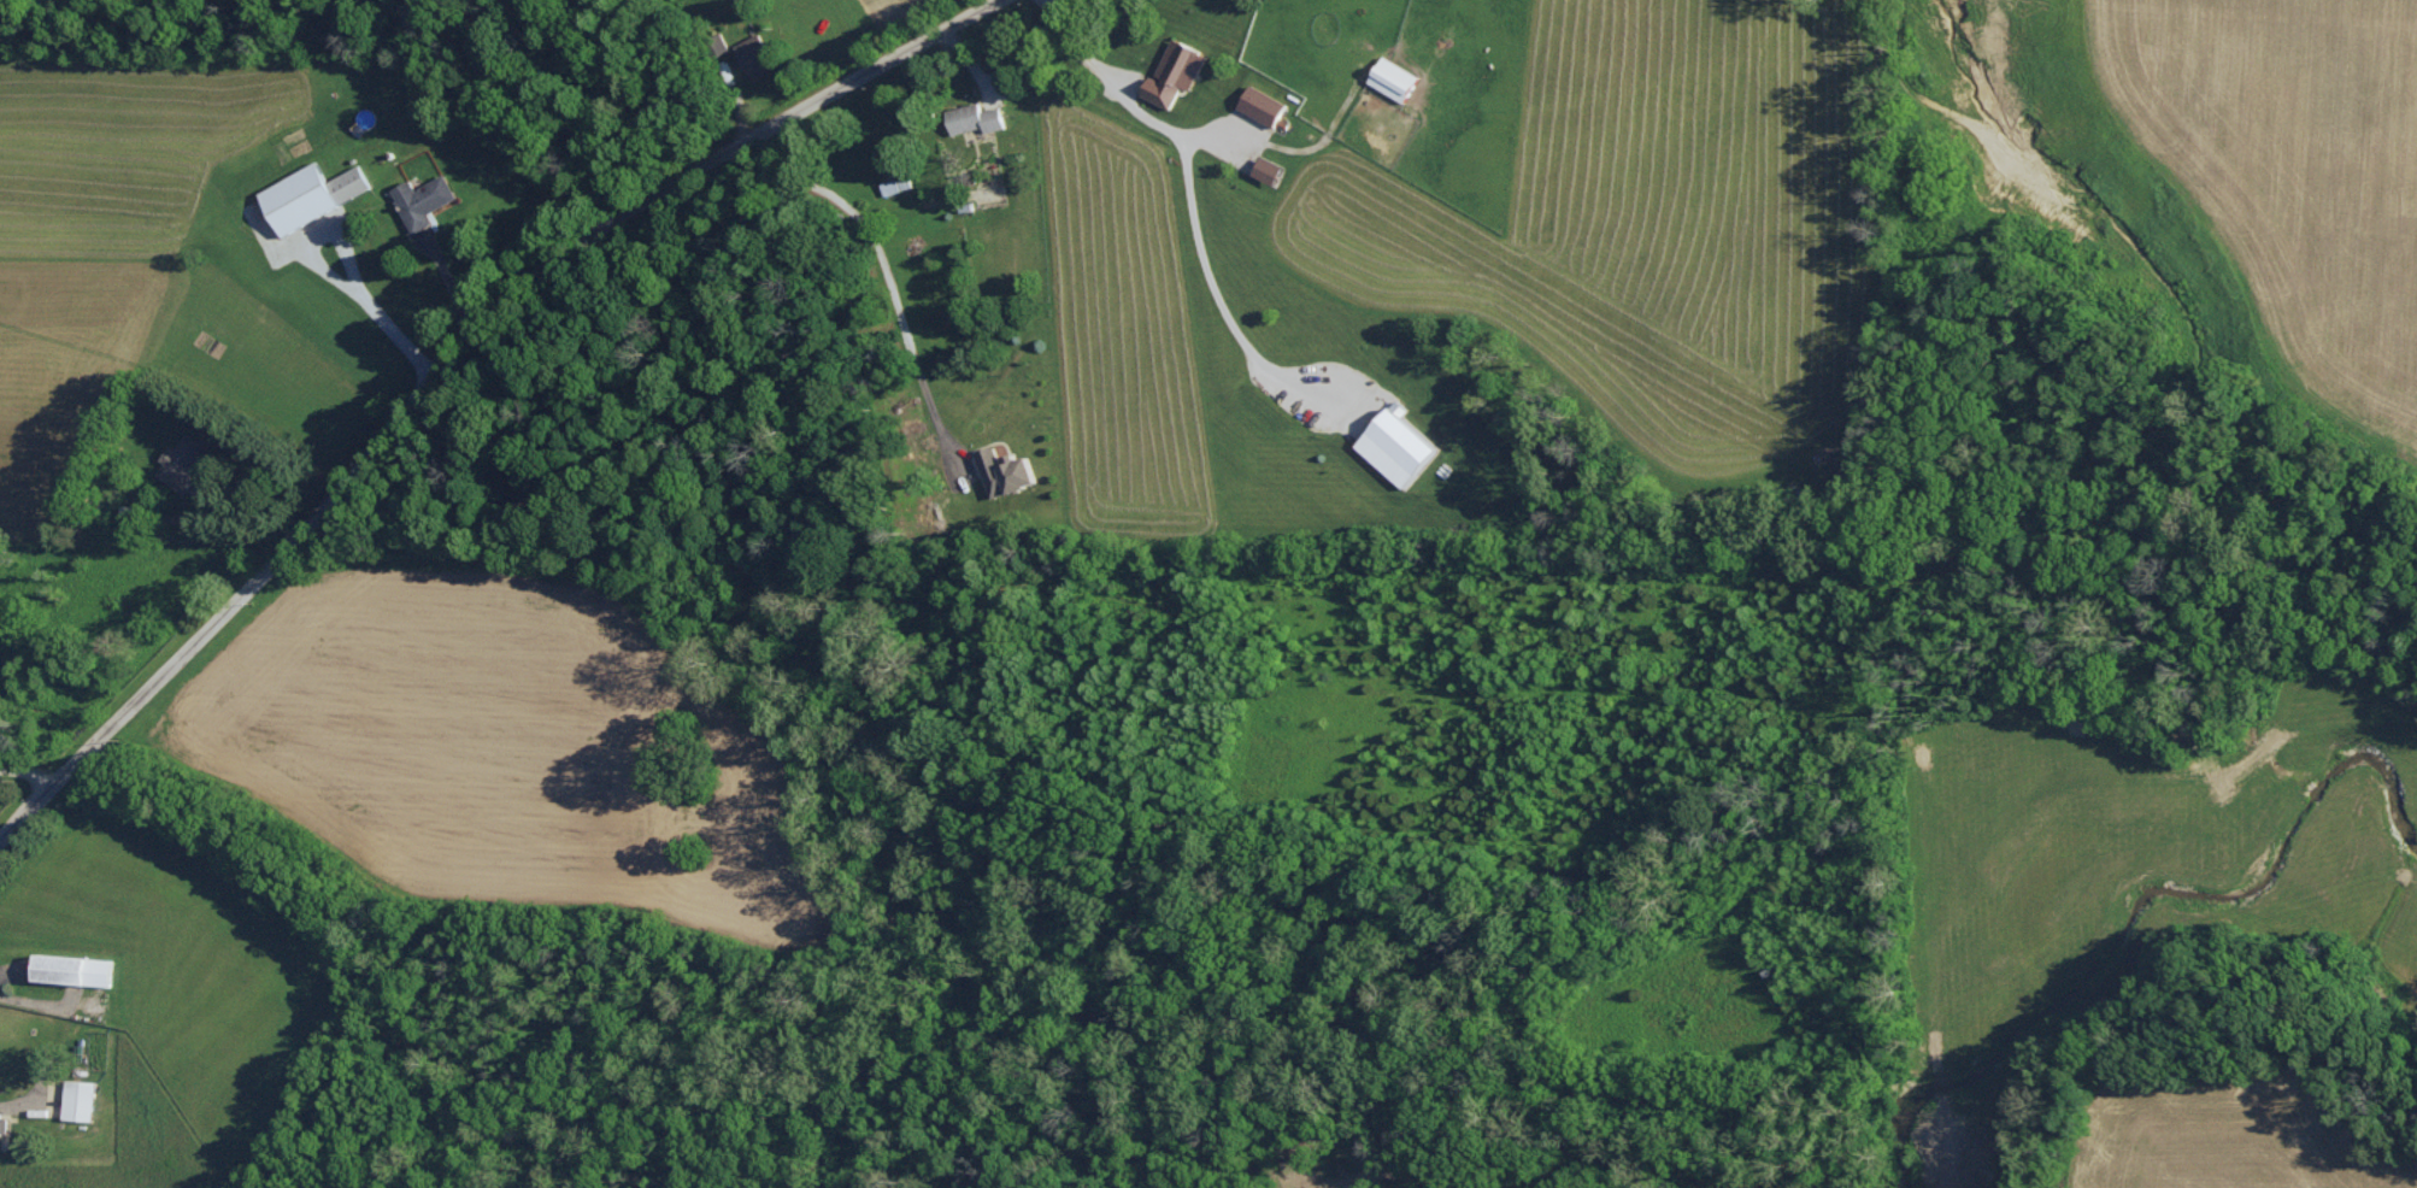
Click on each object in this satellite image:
building: (758, 54)
building: (1178, 71)
building: (1399, 77)
building: (1266, 104)
building: (981, 117)
building: (1274, 169)
road: (1192, 183)
building: (317, 192)
building: (427, 198)
road: (889, 267)
road: (333, 274)
road: (451, 359)
building: (1404, 443)
building: (187, 459)
building: (1012, 470)
road: (407, 510)
building: (135, 514)
road: (30, 770)
building: (81, 968)
building: (84, 1098)
building: (4, 1122)

